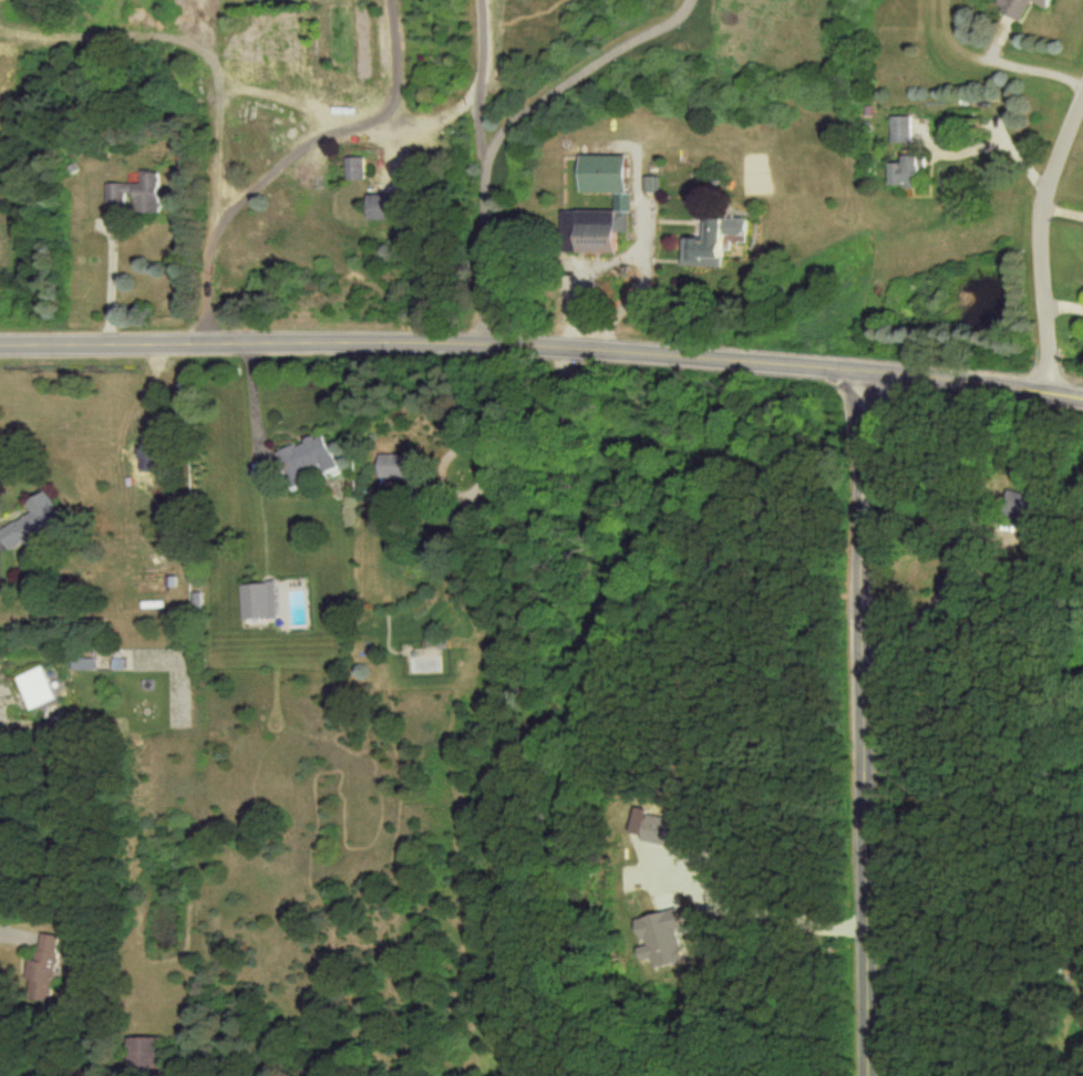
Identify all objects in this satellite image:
building: (1018, 7)
road: (209, 40)
road: (395, 54)
road: (577, 74)
road: (219, 80)
building: (900, 128)
road: (270, 166)
building: (352, 168)
building: (601, 172)
building: (905, 172)
road: (482, 173)
building: (135, 194)
building: (377, 207)
building: (591, 228)
building: (712, 240)
road: (1040, 241)
road: (635, 255)
road: (115, 286)
road: (543, 349)
road: (467, 447)
building: (303, 457)
building: (391, 464)
building: (1018, 503)
building: (30, 520)
road: (935, 596)
building: (257, 599)
building: (83, 663)
building: (35, 686)
road: (867, 724)
building: (657, 827)
road: (764, 914)
road: (10, 931)
building: (661, 935)
building: (43, 968)
building: (143, 1051)

